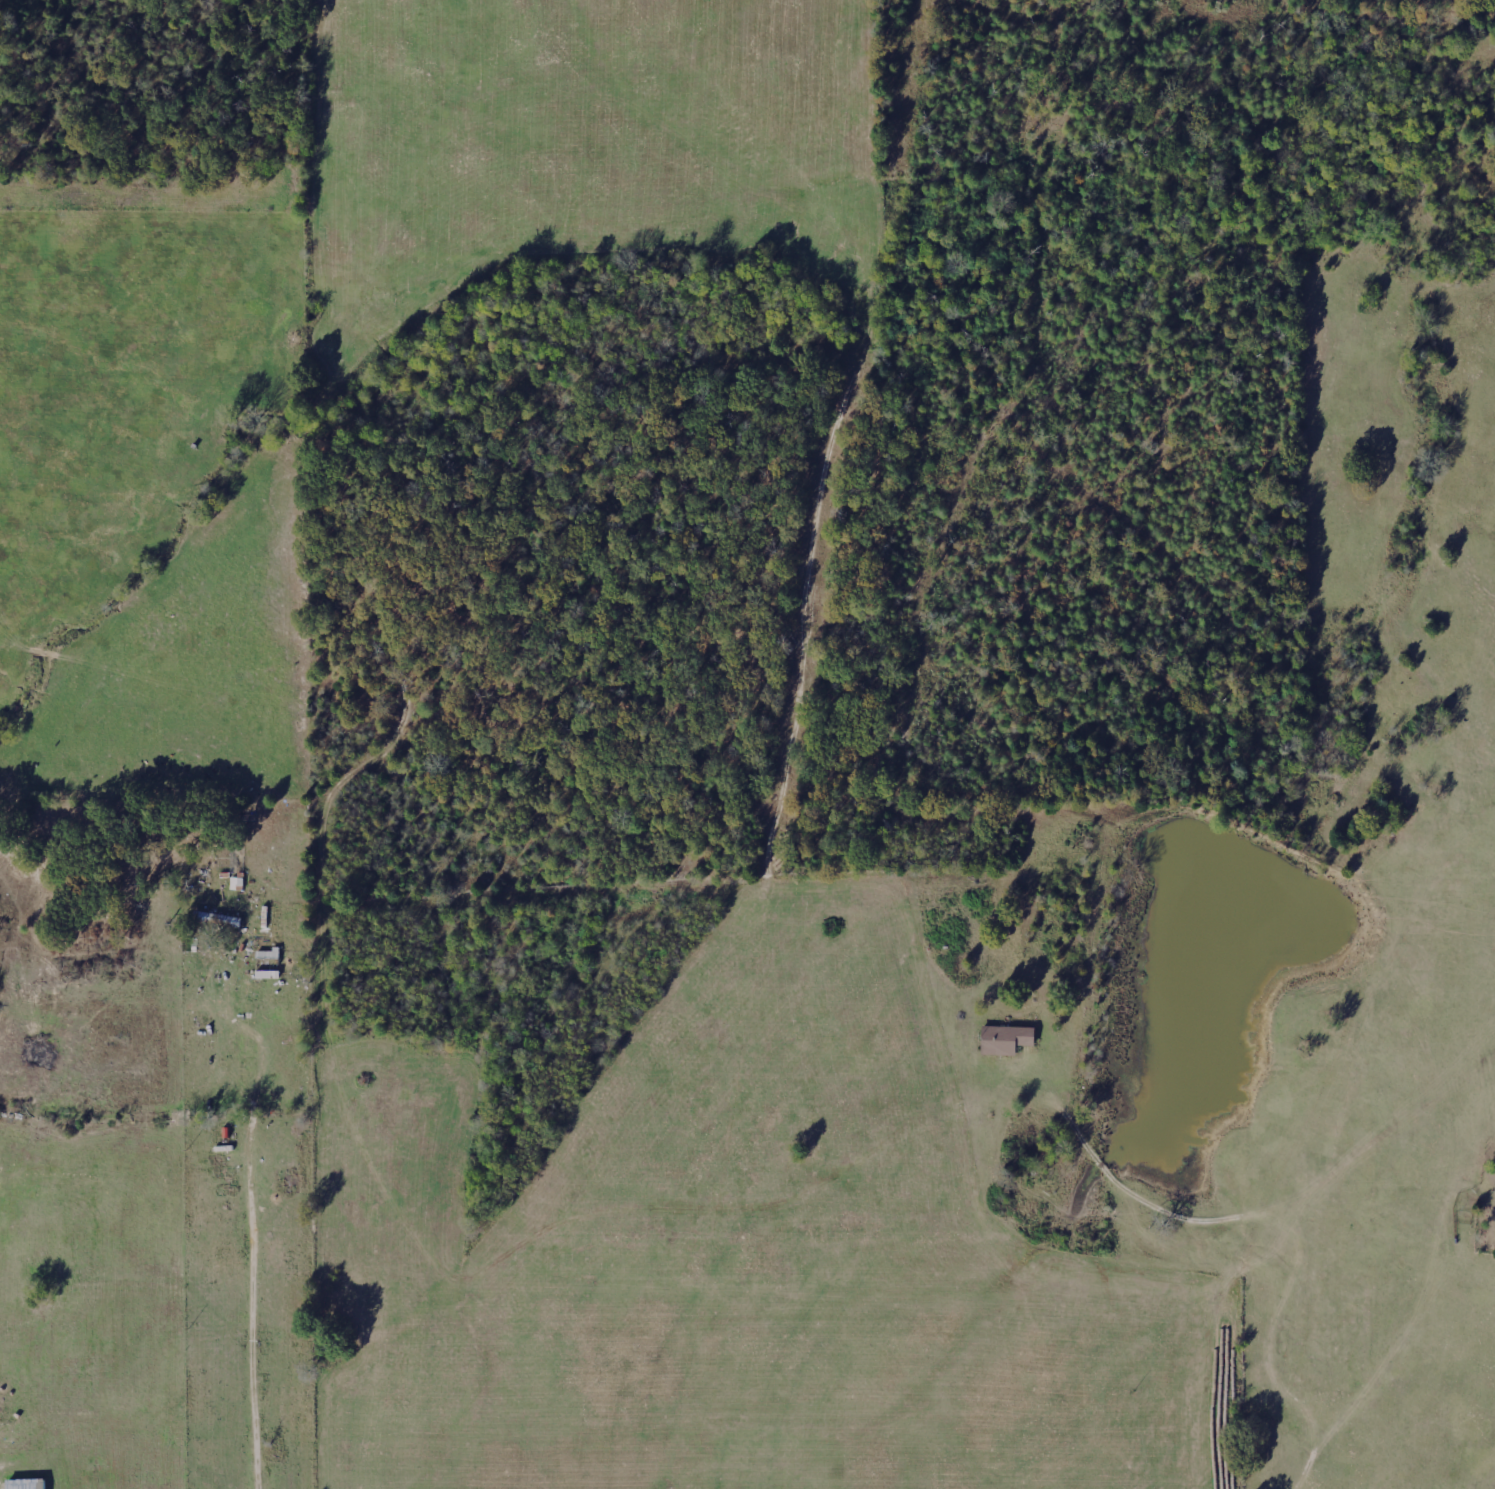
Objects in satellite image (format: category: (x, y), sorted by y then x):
building: (220, 919)
building: (1010, 1039)
building: (30, 1484)

